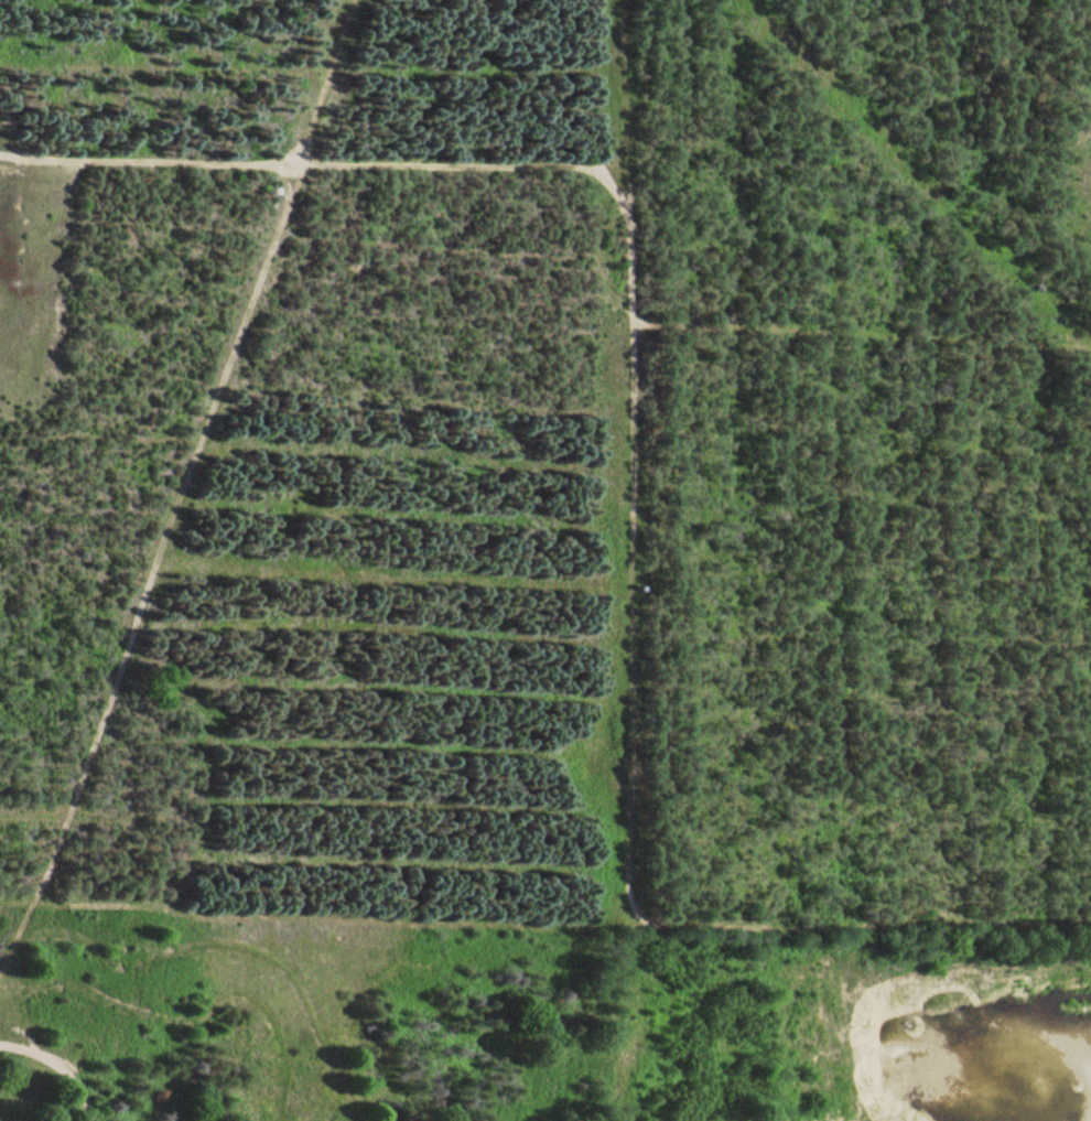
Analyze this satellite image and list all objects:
quarry: (944, 1030)

